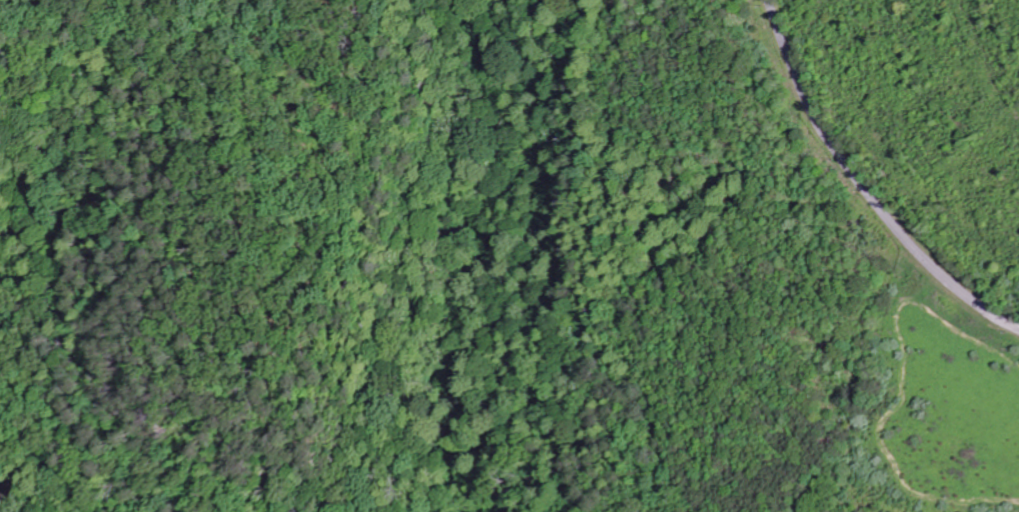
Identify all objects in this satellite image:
road: (858, 190)

